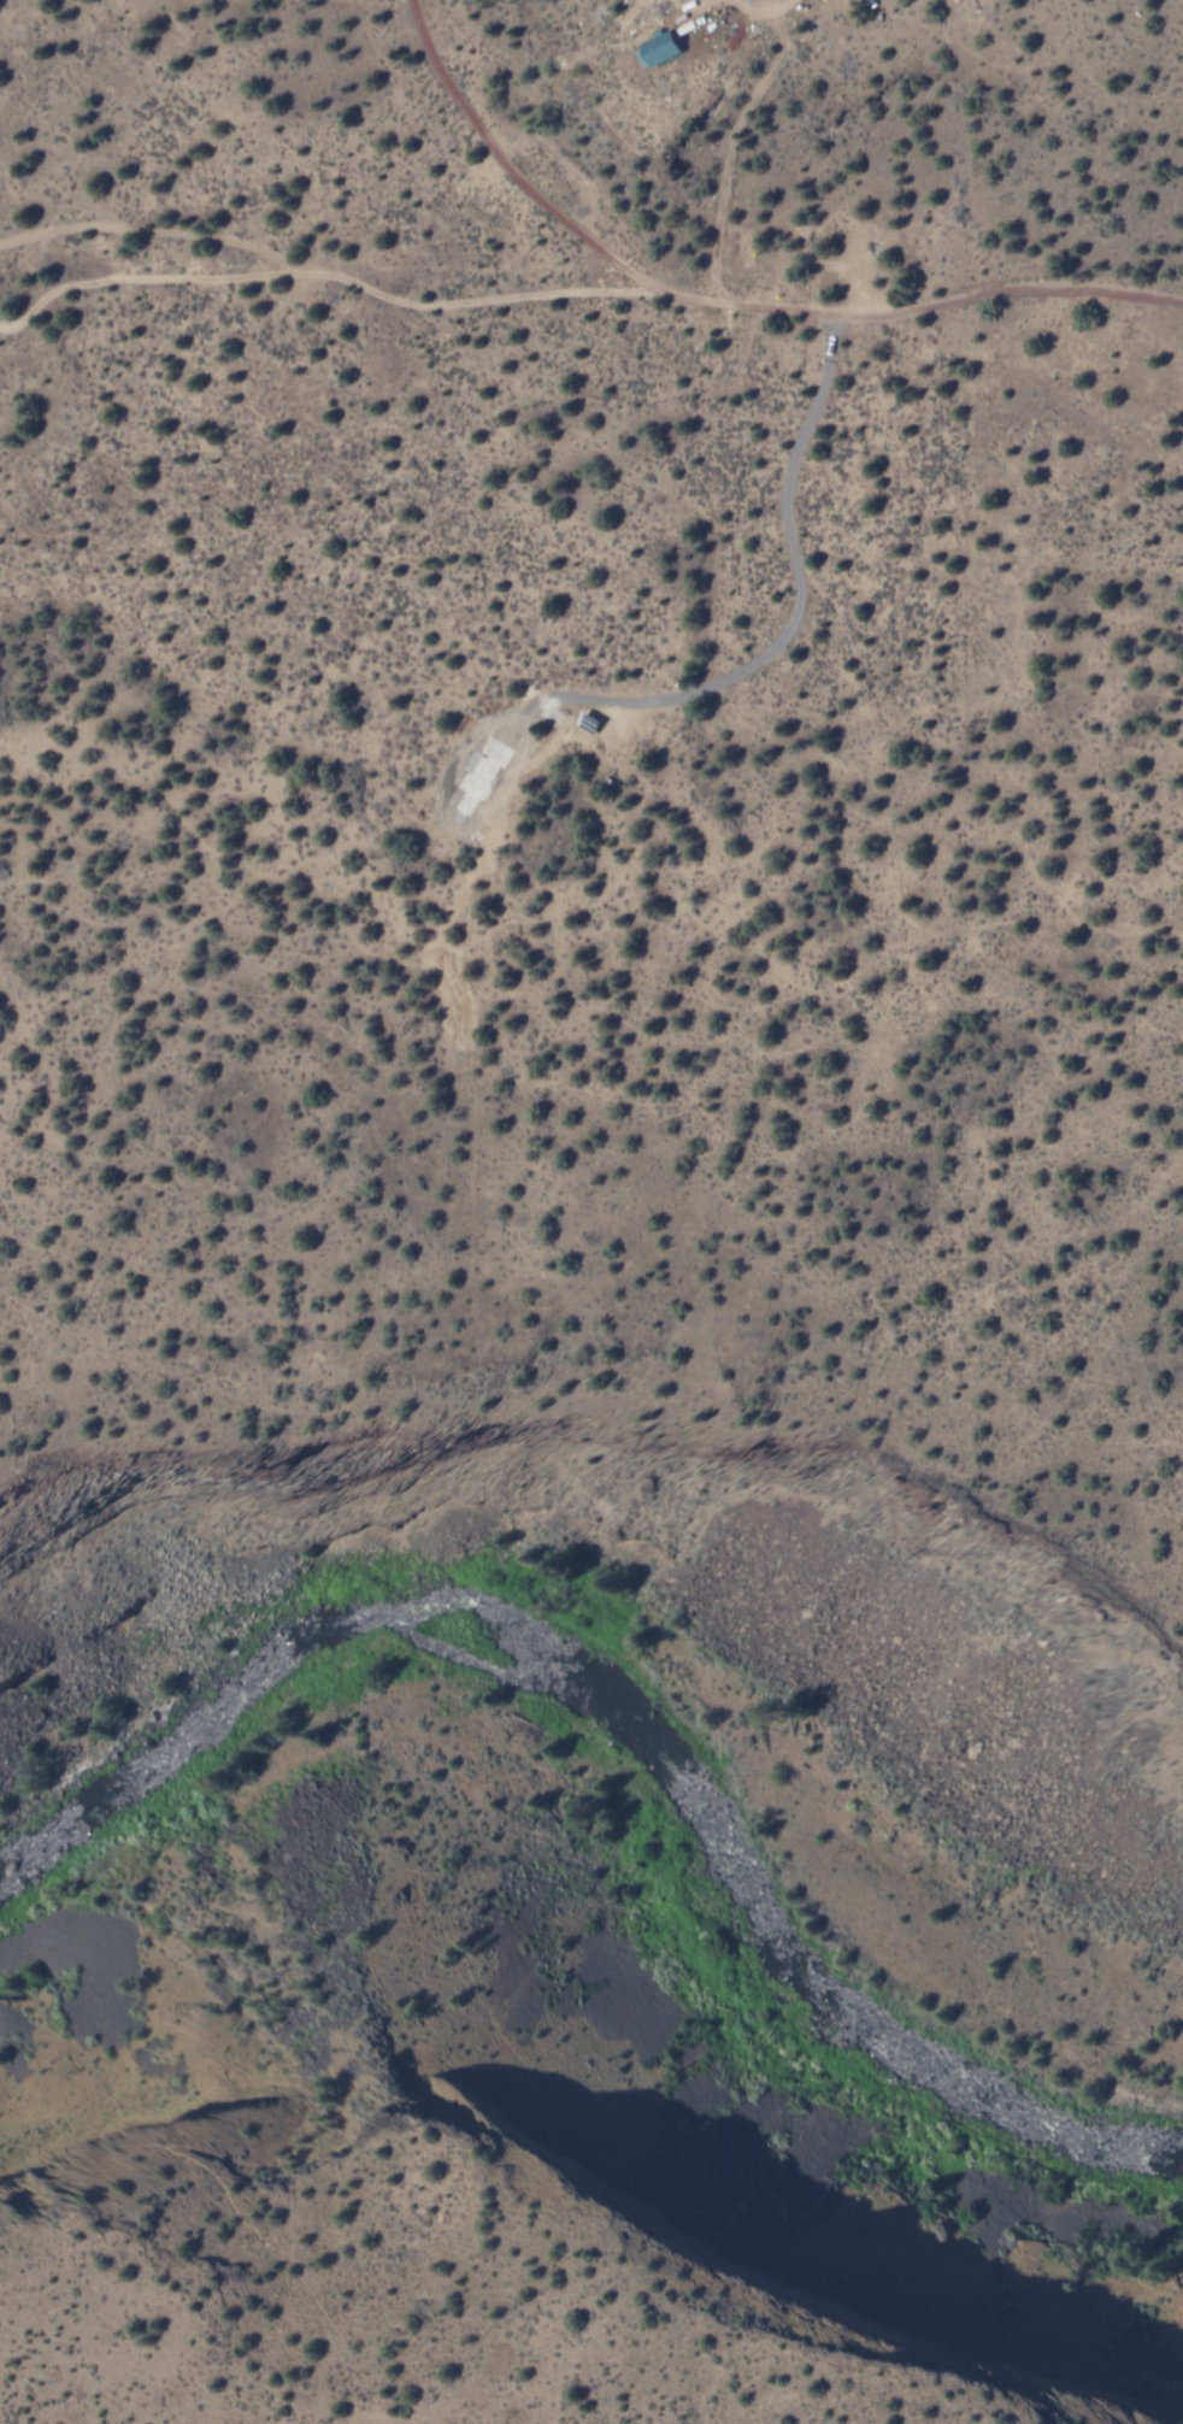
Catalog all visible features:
building: (661, 48)
road: (502, 167)
road: (583, 292)
road: (981, 1189)
river: (628, 1725)

